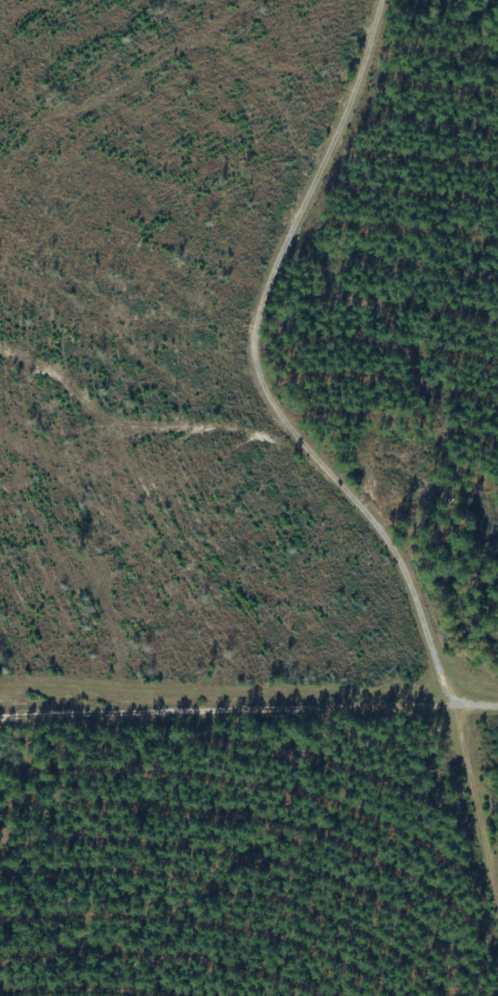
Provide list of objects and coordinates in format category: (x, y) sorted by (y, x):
road: (340, 434)
road: (248, 693)

